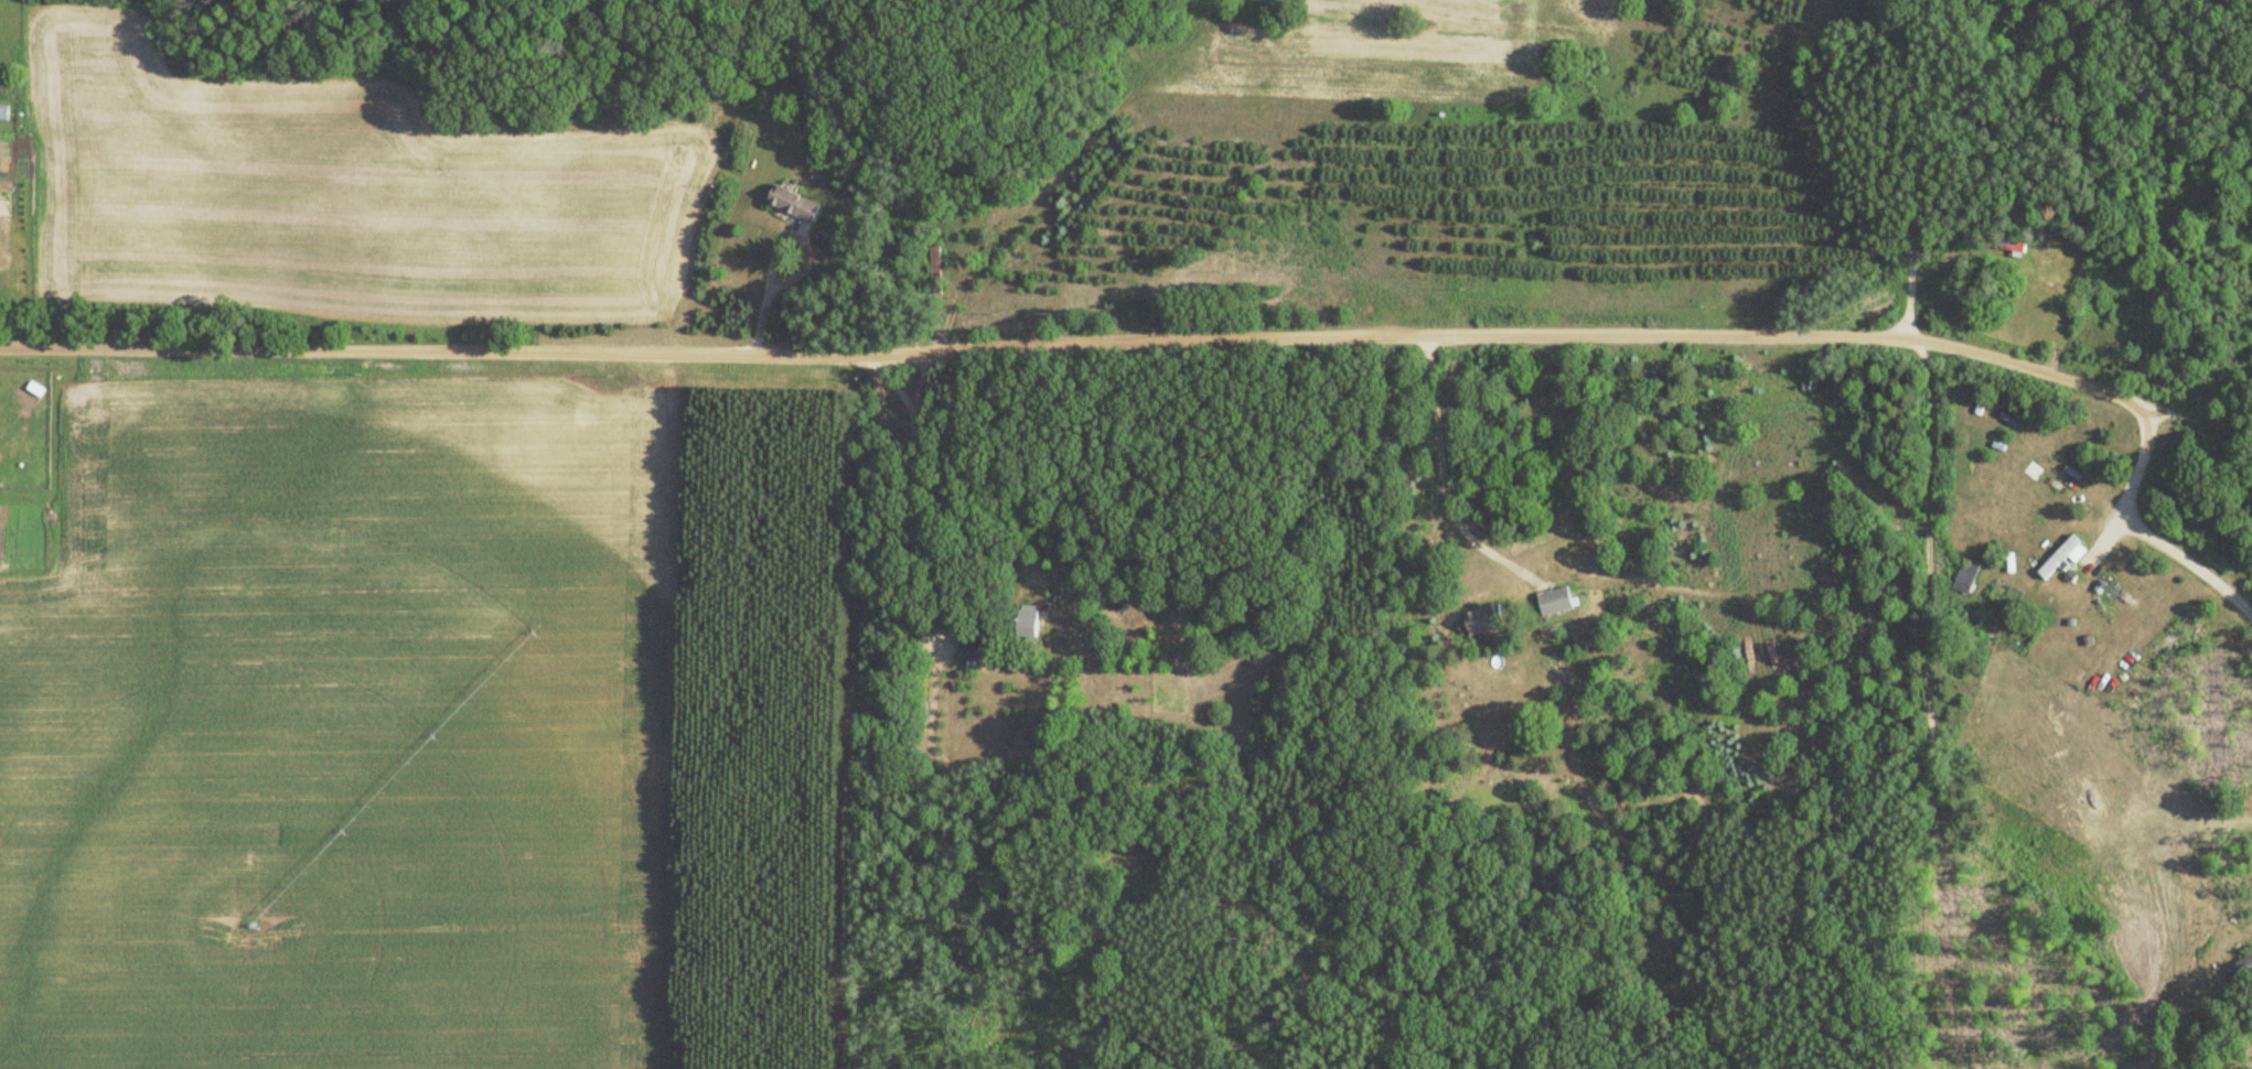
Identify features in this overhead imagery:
road: (1915, 168)
building: (791, 204)
road: (801, 261)
building: (933, 269)
building: (2071, 271)
road: (952, 348)
road: (2024, 364)
road: (2191, 414)
road: (2137, 462)
road: (1437, 483)
road: (922, 518)
road: (2101, 538)
building: (2059, 555)
road: (2189, 561)
building: (1964, 575)
building: (1554, 601)
building: (1026, 619)
building: (1484, 619)
building: (974, 644)
road: (1930, 698)

